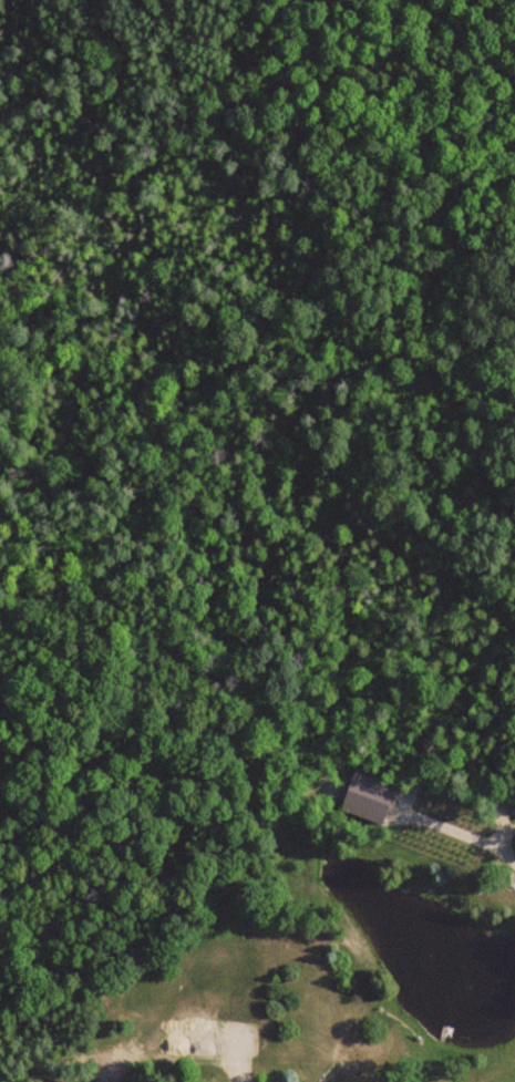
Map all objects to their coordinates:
building: (192, 1039)

